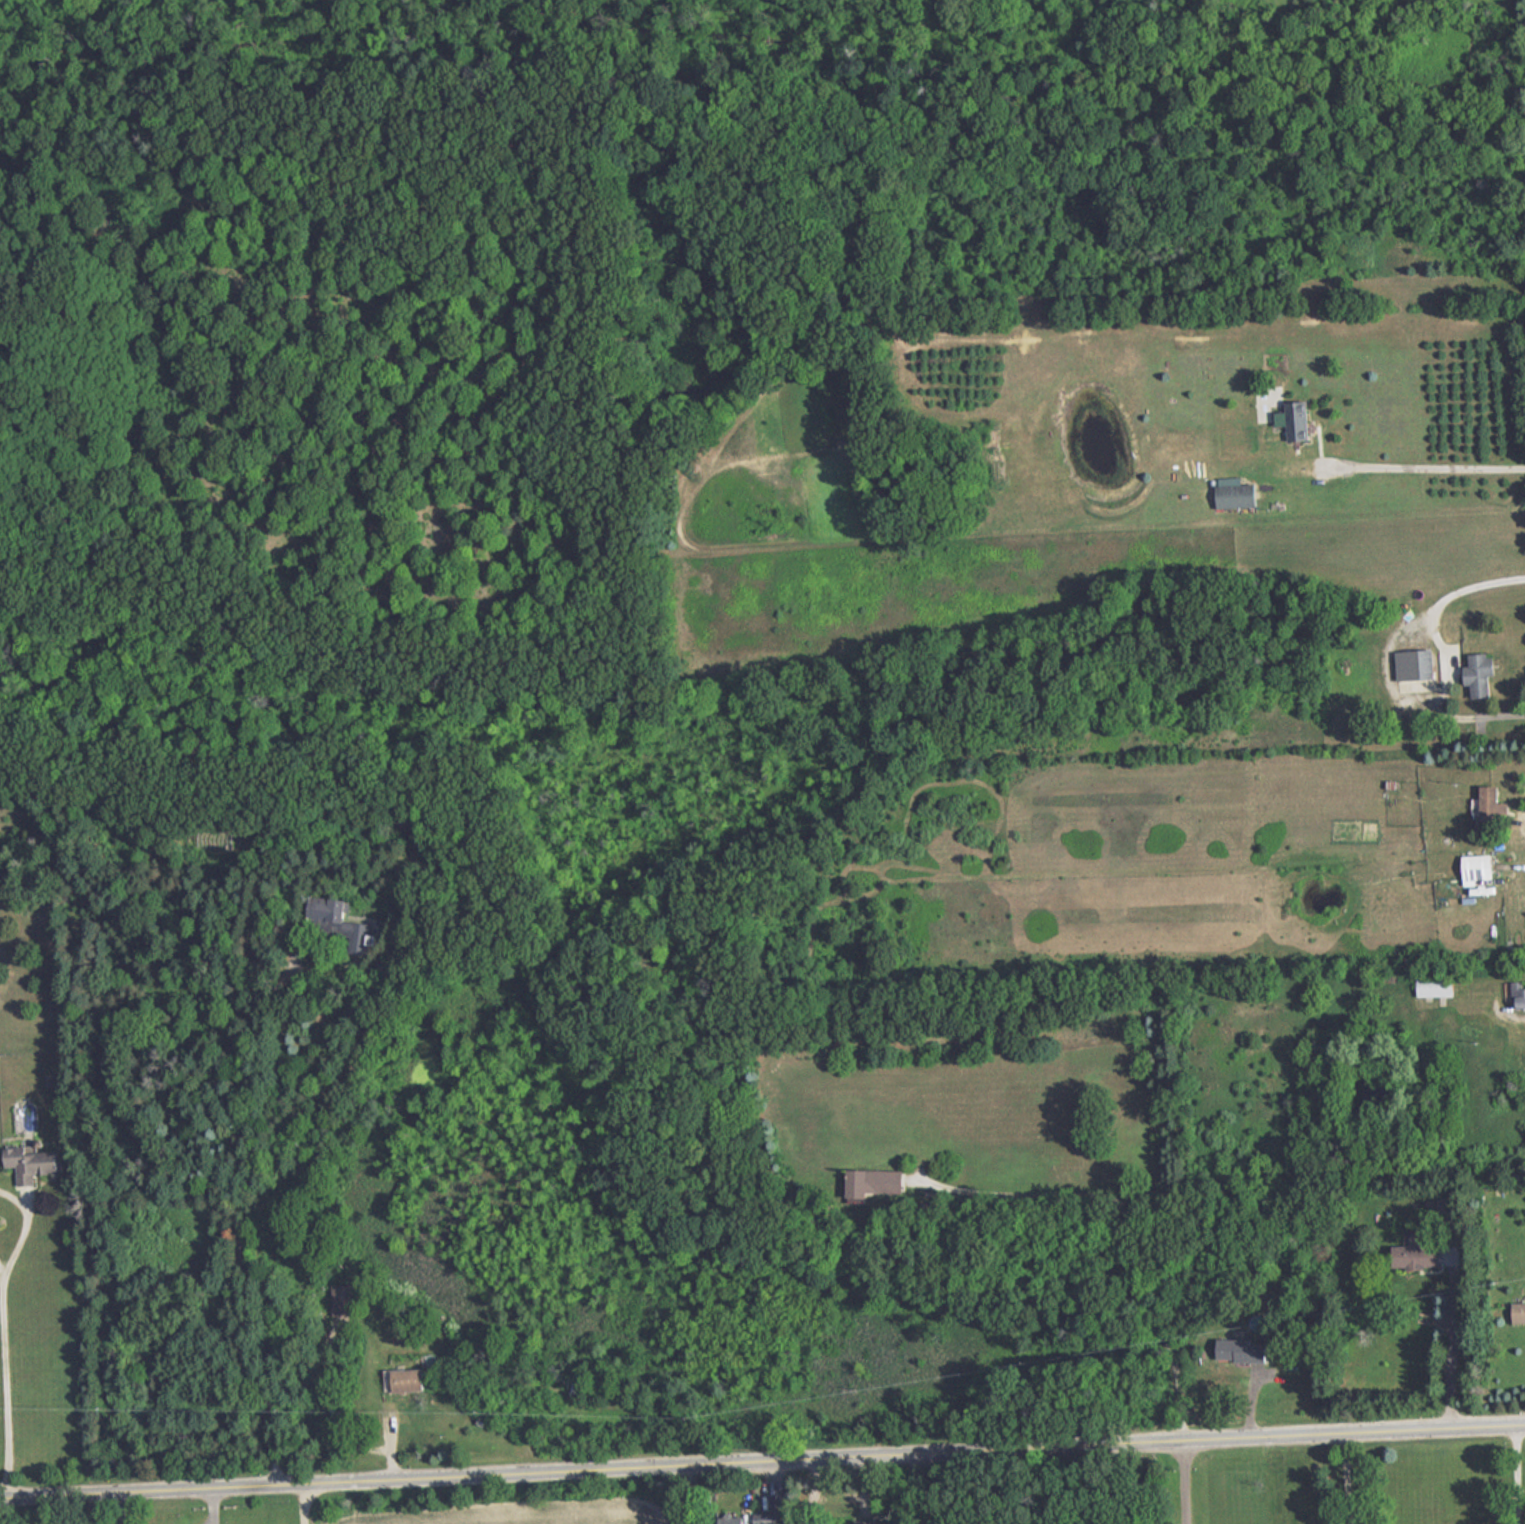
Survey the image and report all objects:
building: (1301, 421)
road: (1425, 468)
building: (1238, 495)
road: (1460, 593)
building: (1416, 664)
building: (1481, 673)
road: (1470, 718)
building: (1493, 804)
building: (1478, 868)
building: (331, 911)
building: (1436, 986)
building: (1519, 995)
building: (32, 1163)
building: (874, 1182)
road: (237, 1215)
road: (1124, 1221)
building: (1419, 1254)
building: (345, 1300)
building: (1519, 1311)
road: (1455, 1345)
building: (1242, 1351)
road: (7, 1354)
building: (410, 1381)
road: (762, 1459)
road: (1519, 1475)
road: (1349, 1478)
road: (1189, 1481)
road: (918, 1488)
road: (696, 1493)
road: (213, 1505)
road: (119, 1507)
building: (734, 1518)
building: (862, 1522)

